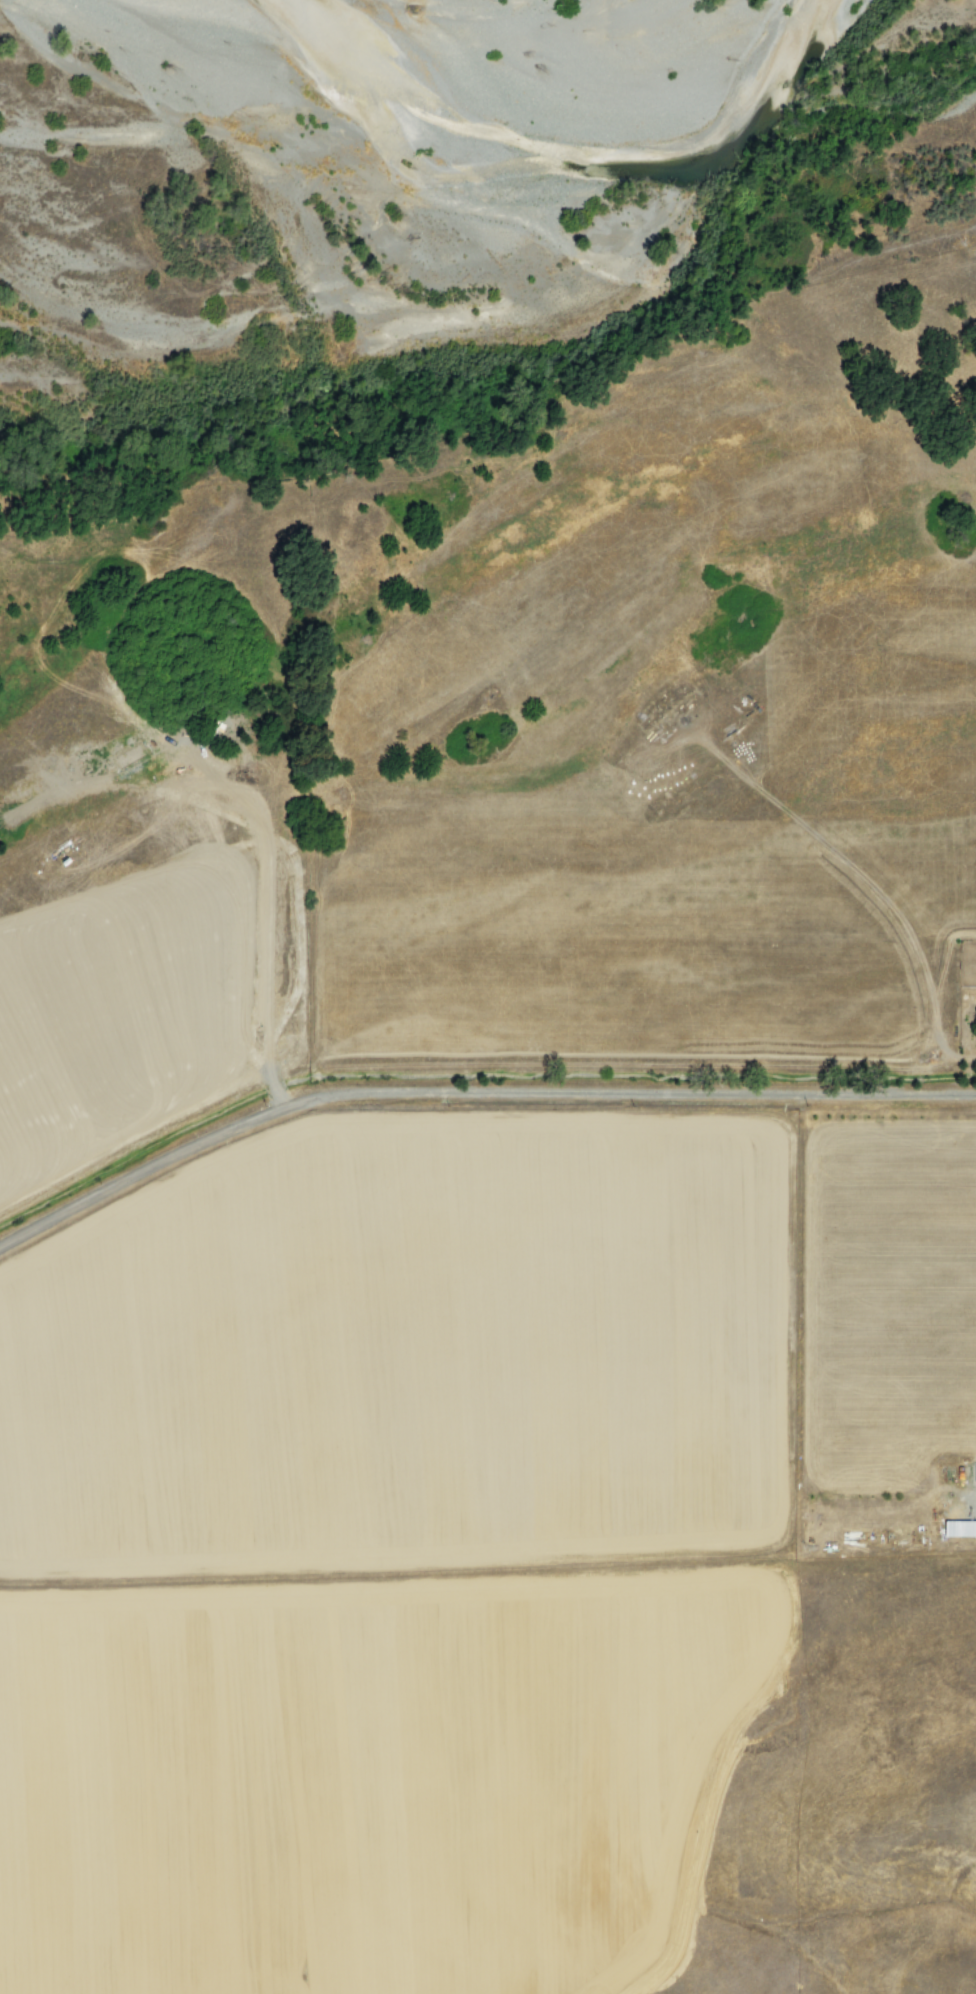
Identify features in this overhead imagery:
river: (349, 16)
road: (650, 1092)
road: (158, 1162)
building: (957, 1528)

